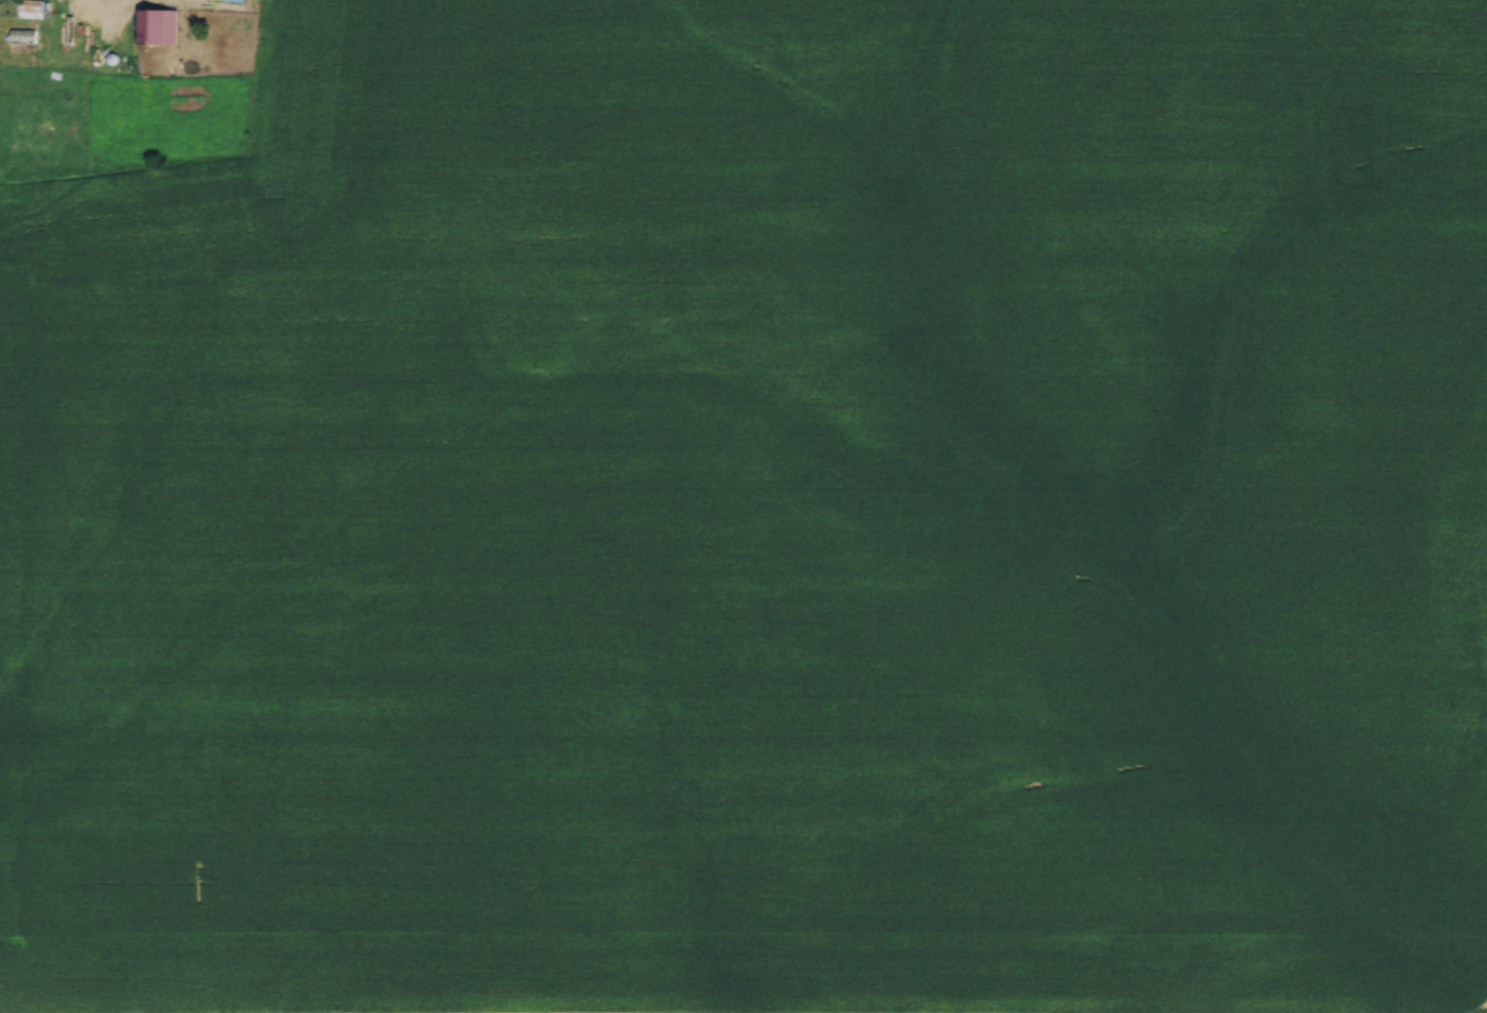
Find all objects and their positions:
building: (159, 25)
building: (24, 34)

